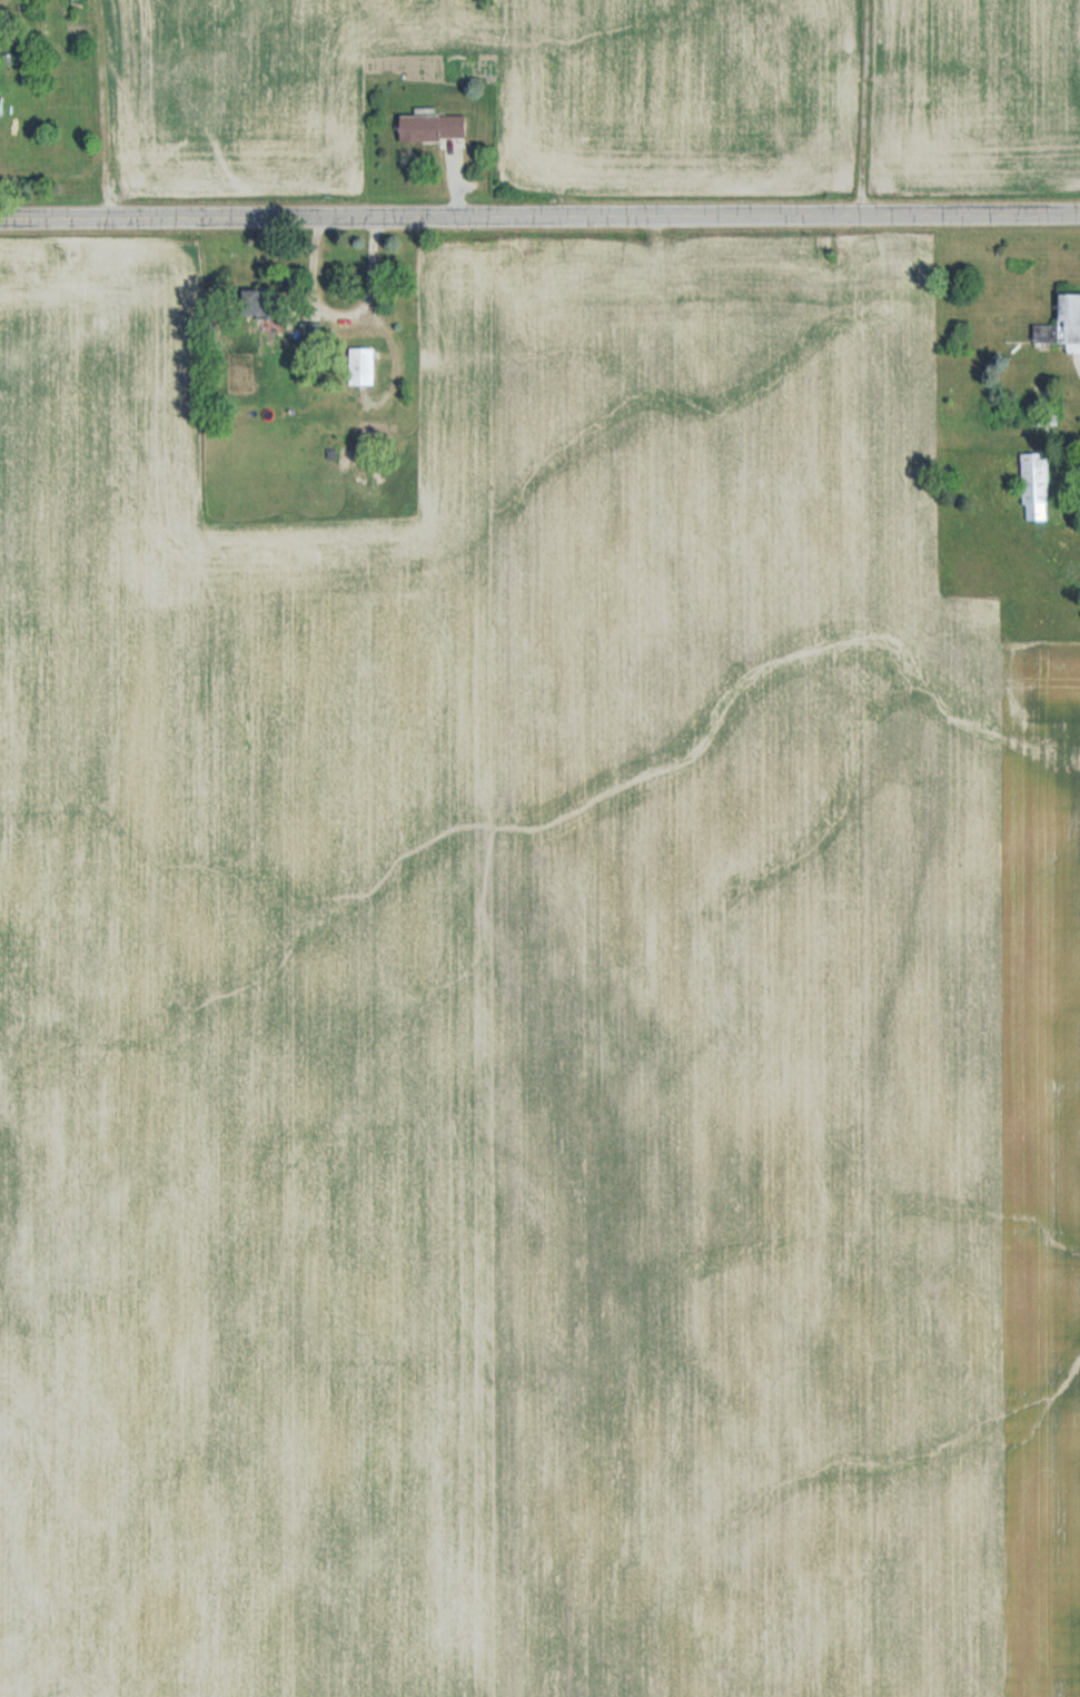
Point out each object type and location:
crop: (627, 96)
building: (2, 103)
road: (863, 106)
building: (435, 129)
road: (539, 214)
building: (265, 304)
road: (345, 313)
building: (1063, 327)
building: (314, 337)
building: (364, 367)
building: (1037, 487)

